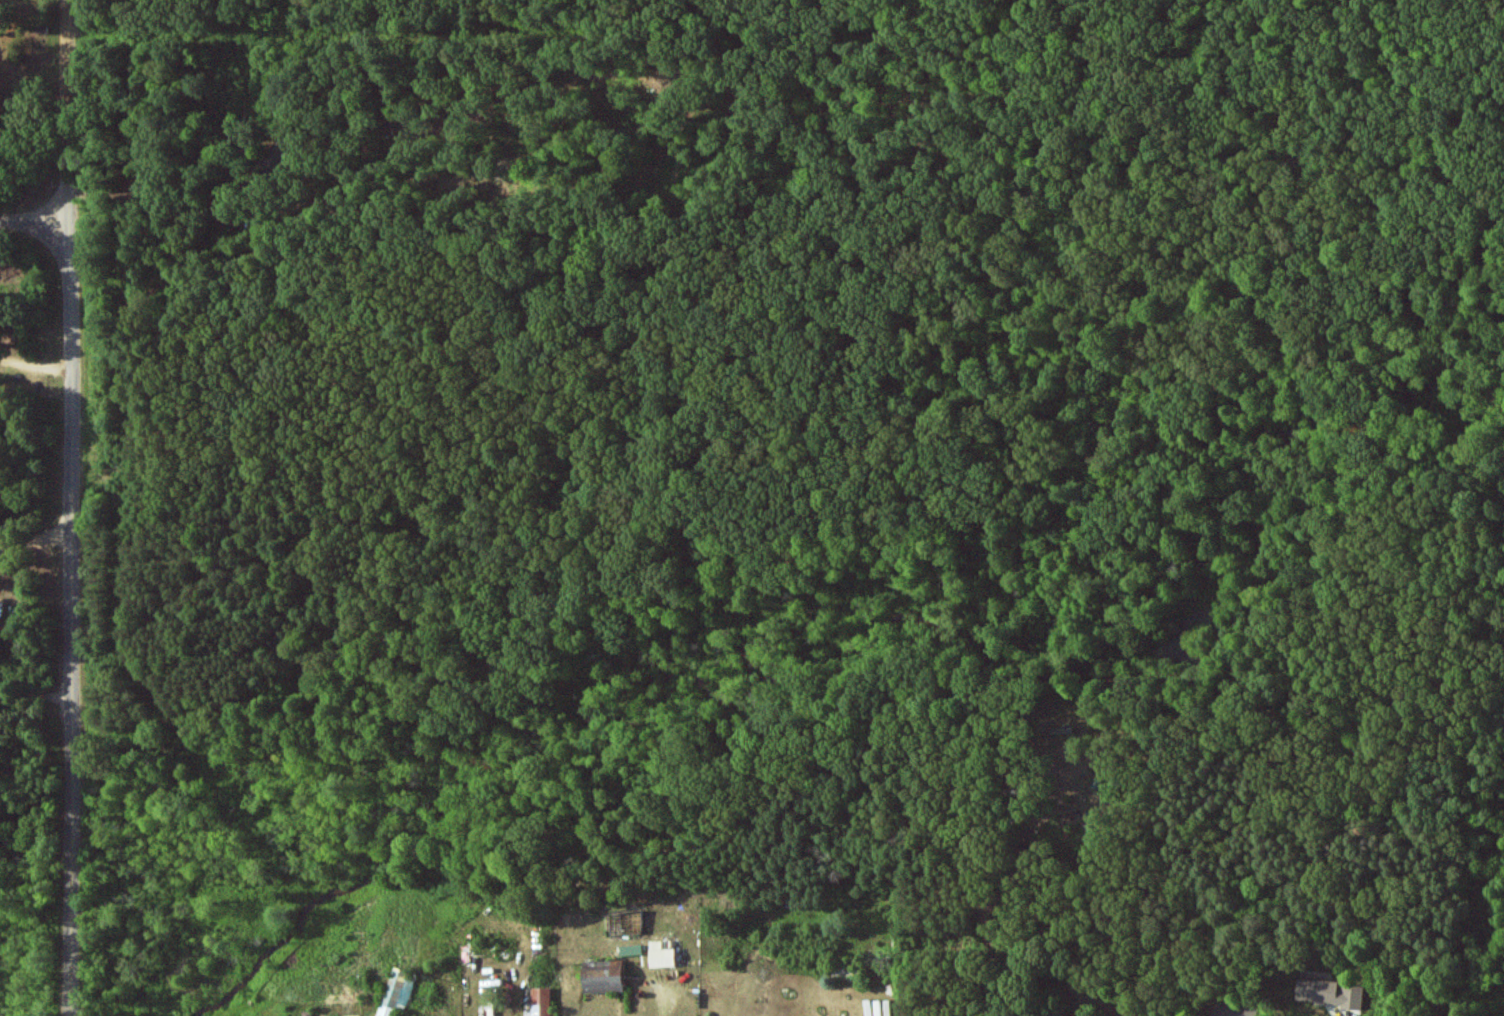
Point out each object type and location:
road: (316, 47)
park: (28, 101)
road: (36, 225)
road: (167, 227)
road: (35, 367)
road: (71, 507)
road: (35, 691)
building: (630, 949)
building: (660, 955)
building: (602, 977)
building: (396, 992)
building: (1331, 993)
building: (539, 1002)
building: (1232, 1010)

